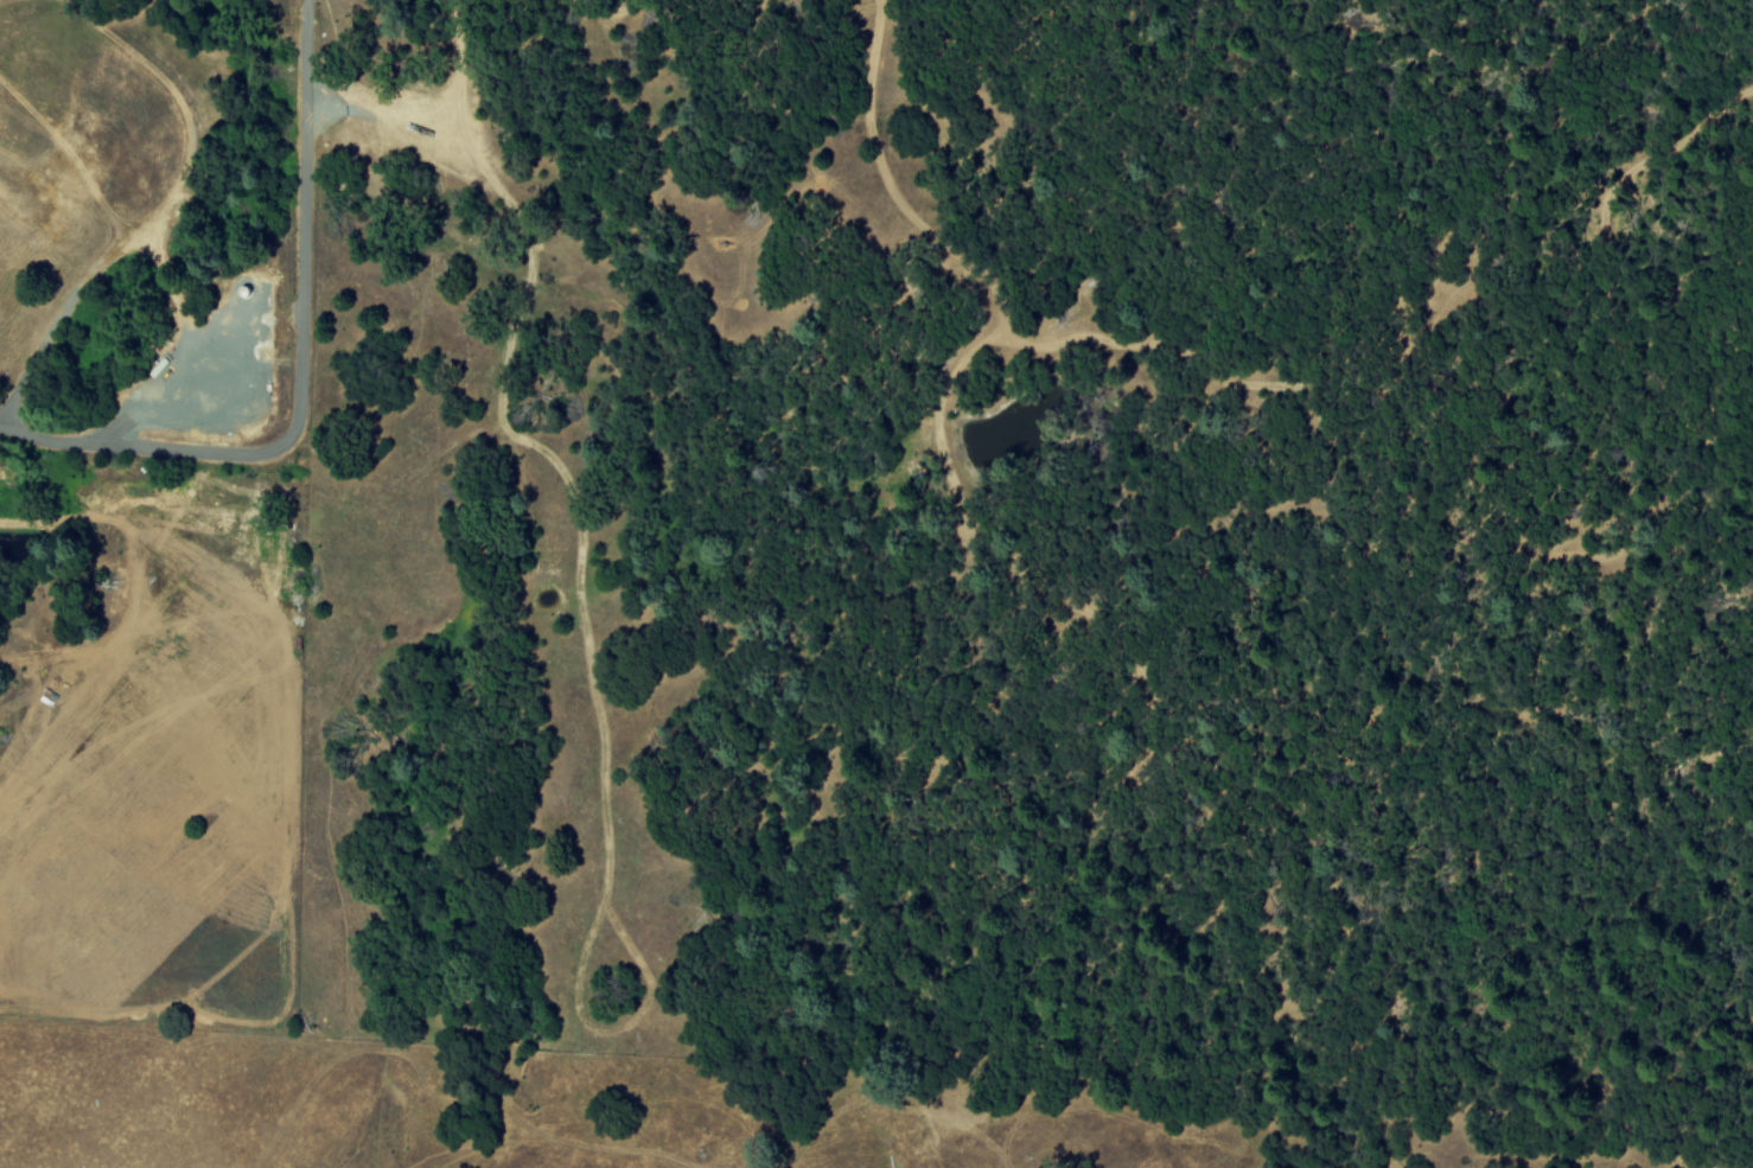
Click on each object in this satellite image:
road: (56, 318)
road: (302, 364)

